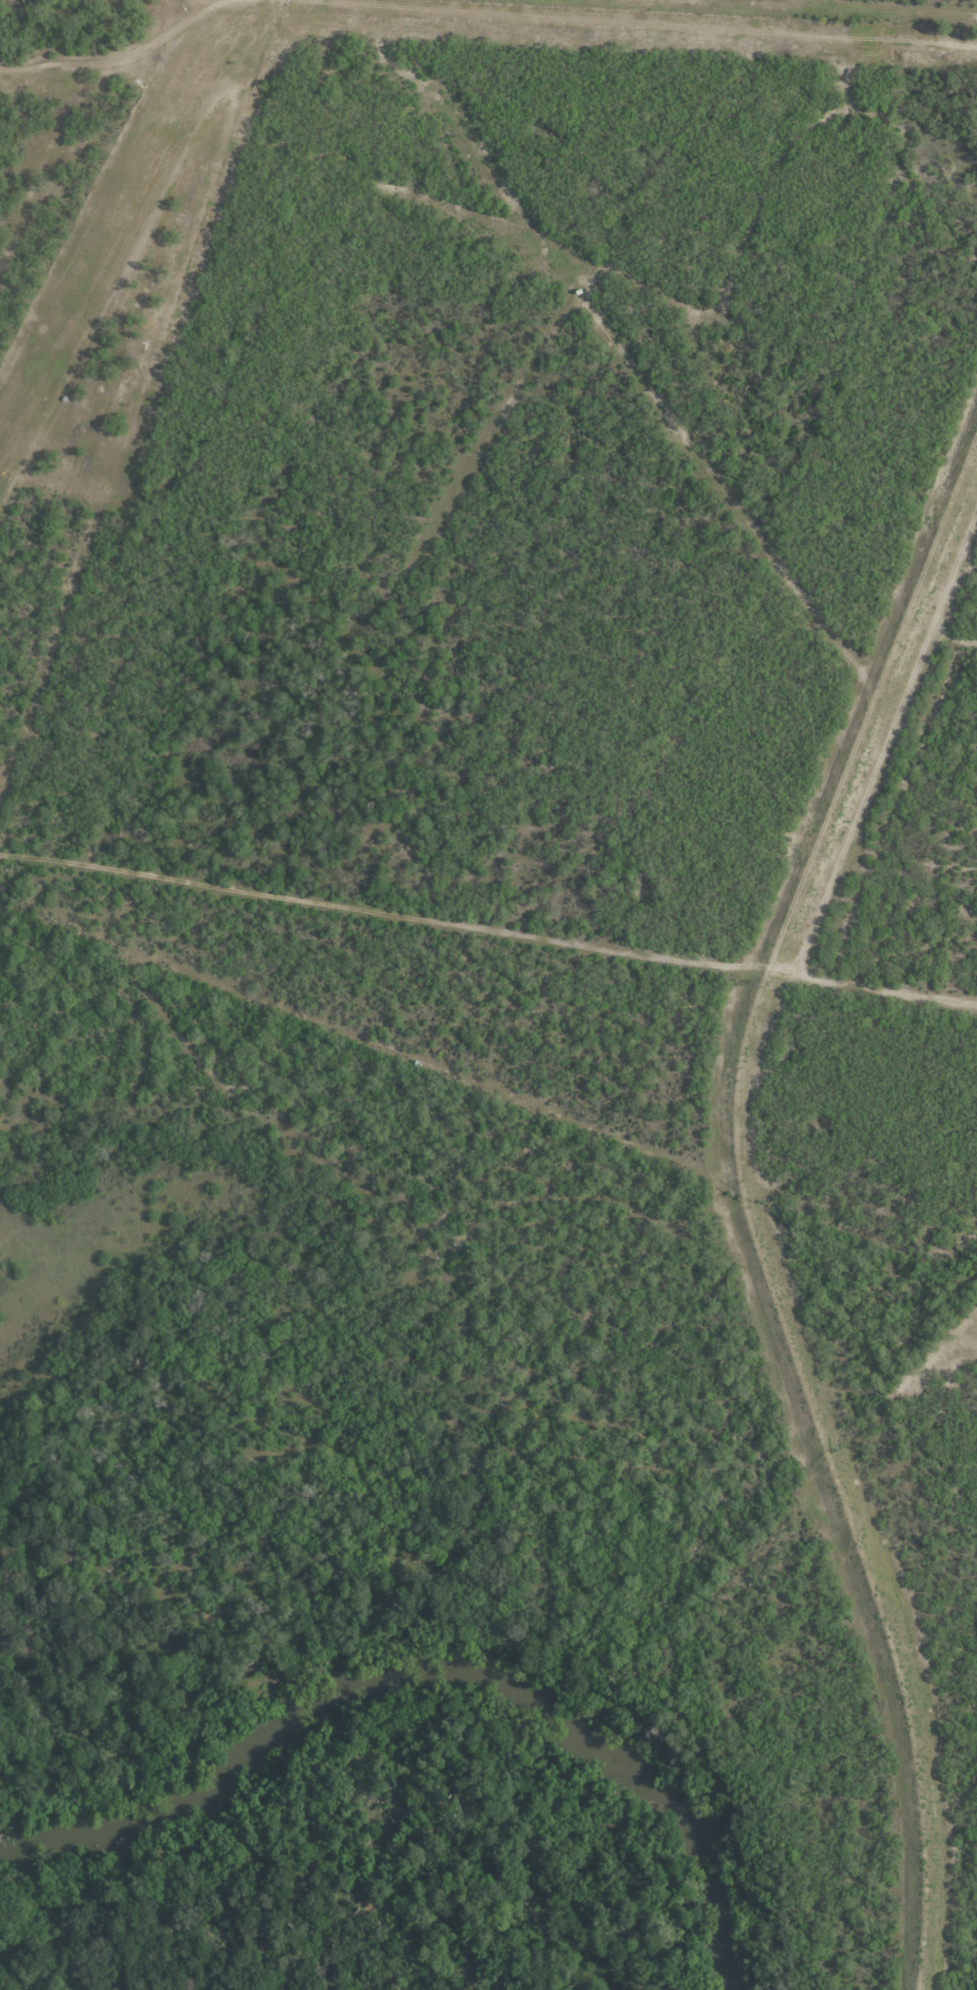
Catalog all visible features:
river: (442, 1676)

